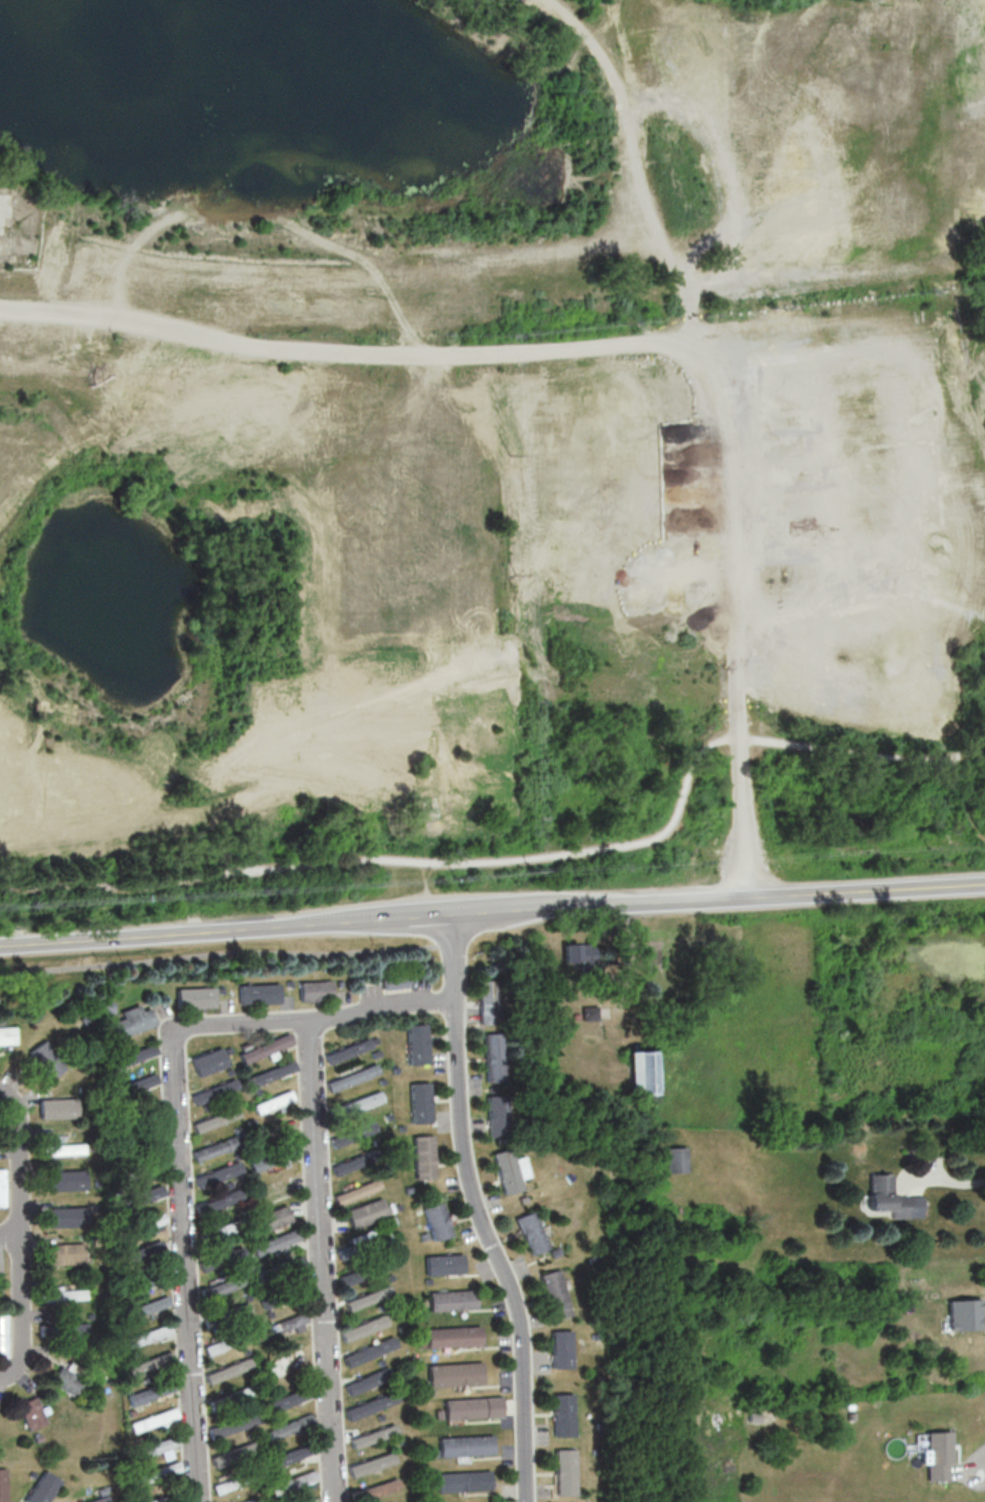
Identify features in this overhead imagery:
park: (943, 260)
road: (341, 347)
road: (711, 431)
road: (525, 859)
road: (426, 890)
road: (492, 913)
building: (578, 952)
building: (395, 982)
building: (287, 983)
building: (339, 983)
building: (219, 990)
building: (314, 990)
building: (257, 993)
building: (193, 997)
building: (488, 1001)
road: (379, 1005)
building: (105, 1007)
building: (589, 1012)
road: (236, 1017)
building: (130, 1021)
building: (7, 1035)
building: (374, 1039)
building: (415, 1043)
building: (243, 1045)
building: (264, 1048)
building: (227, 1050)
building: (346, 1050)
building: (375, 1053)
building: (128, 1057)
building: (496, 1057)
building: (46, 1058)
building: (208, 1061)
building: (394, 1070)
building: (228, 1071)
building: (270, 1072)
building: (641, 1072)
building: (351, 1077)
building: (381, 1080)
building: (132, 1085)
building: (213, 1091)
building: (256, 1091)
building: (272, 1100)
building: (418, 1103)
building: (355, 1104)
building: (57, 1108)
building: (498, 1115)
building: (386, 1116)
building: (214, 1119)
building: (400, 1127)
building: (351, 1134)
building: (59, 1148)
building: (216, 1148)
building: (272, 1157)
building: (423, 1157)
building: (675, 1159)
road: (19, 1162)
building: (354, 1163)
building: (508, 1171)
building: (217, 1174)
building: (66, 1179)
road: (950, 1180)
building: (229, 1183)
building: (1, 1187)
building: (356, 1191)
building: (139, 1196)
building: (223, 1198)
building: (891, 1198)
building: (523, 1199)
building: (396, 1206)
road: (476, 1212)
building: (366, 1213)
building: (67, 1216)
building: (273, 1217)
building: (391, 1220)
building: (436, 1221)
building: (144, 1223)
building: (225, 1228)
building: (532, 1233)
road: (9, 1235)
building: (424, 1235)
building: (276, 1241)
building: (228, 1244)
building: (363, 1245)
building: (555, 1251)
building: (143, 1252)
building: (64, 1253)
building: (221, 1257)
road: (322, 1259)
building: (443, 1263)
building: (257, 1266)
road: (183, 1267)
building: (280, 1268)
building: (364, 1271)
building: (389, 1277)
building: (147, 1278)
building: (426, 1280)
building: (221, 1287)
building: (555, 1293)
building: (62, 1294)
building: (246, 1296)
building: (280, 1296)
building: (367, 1297)
building: (453, 1299)
building: (423, 1302)
building: (144, 1307)
road: (19, 1308)
building: (268, 1313)
building: (226, 1314)
building: (966, 1314)
building: (284, 1323)
building: (363, 1327)
building: (75, 1328)
building: (402, 1328)
building: (3, 1335)
building: (145, 1335)
building: (453, 1335)
building: (595, 1335)
building: (226, 1341)
building: (421, 1342)
building: (562, 1348)
building: (244, 1351)
building: (369, 1351)
building: (130, 1355)
building: (149, 1363)
building: (380, 1363)
building: (227, 1369)
building: (455, 1374)
road: (1, 1375)
building: (368, 1379)
building: (65, 1380)
building: (150, 1392)
building: (428, 1392)
building: (233, 1396)
building: (286, 1399)
building: (371, 1405)
building: (473, 1407)
building: (31, 1412)
building: (130, 1412)
building: (439, 1413)
building: (564, 1414)
building: (379, 1416)
building: (152, 1419)
building: (232, 1424)
building: (290, 1426)
building: (373, 1435)
building: (139, 1440)
building: (466, 1444)
building: (154, 1447)
building: (433, 1452)
building: (165, 1453)
building: (235, 1453)
building: (294, 1454)
building: (937, 1455)
road: (980, 1460)
building: (371, 1463)
building: (565, 1471)
building: (154, 1472)
building: (235, 1480)
building: (463, 1480)
building: (292, 1482)
building: (2, 1485)
building: (43, 1488)
building: (378, 1488)
building: (167, 1496)
building: (100, 1499)
building: (252, 1499)
building: (308, 1500)
building: (224, 1501)

